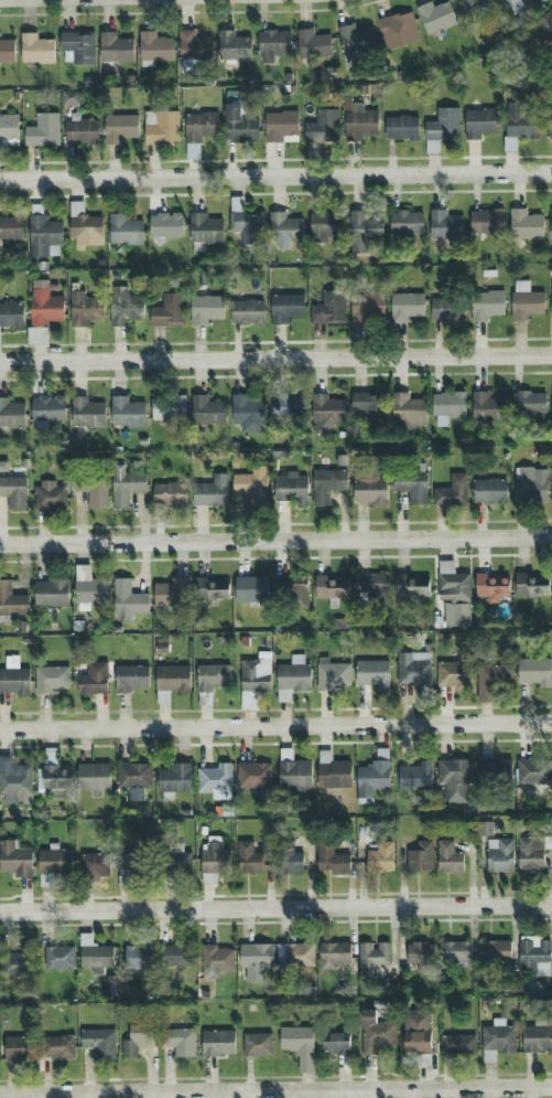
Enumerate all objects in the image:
building: (472, 4)
building: (516, 6)
building: (436, 17)
building: (545, 25)
building: (399, 31)
building: (314, 45)
building: (357, 45)
building: (80, 46)
building: (195, 46)
building: (274, 46)
building: (234, 47)
building: (116, 49)
building: (37, 50)
building: (155, 50)
building: (7, 52)
building: (71, 98)
building: (520, 122)
building: (480, 124)
building: (550, 124)
building: (361, 125)
building: (240, 126)
building: (162, 127)
building: (201, 127)
building: (282, 127)
building: (324, 127)
building: (402, 128)
building: (122, 129)
building: (442, 129)
building: (9, 130)
building: (44, 131)
building: (82, 131)
road: (275, 177)
building: (407, 223)
building: (551, 223)
building: (166, 225)
building: (526, 225)
building: (325, 226)
building: (446, 226)
building: (248, 227)
building: (285, 227)
building: (11, 228)
building: (125, 231)
building: (205, 231)
building: (364, 231)
building: (86, 232)
building: (45, 236)
building: (526, 301)
building: (551, 302)
building: (487, 305)
building: (45, 306)
building: (125, 307)
building: (286, 307)
building: (407, 307)
building: (367, 308)
building: (85, 309)
building: (329, 309)
building: (206, 310)
building: (446, 310)
building: (169, 311)
building: (248, 312)
building: (11, 316)
building: (0, 340)
road: (275, 360)
building: (529, 404)
building: (288, 407)
building: (448, 407)
building: (487, 407)
building: (169, 408)
building: (368, 408)
building: (207, 411)
building: (409, 411)
building: (47, 412)
building: (87, 413)
building: (127, 413)
building: (11, 414)
building: (249, 414)
building: (326, 414)
building: (126, 486)
building: (252, 486)
building: (327, 486)
building: (531, 486)
building: (413, 487)
building: (370, 488)
building: (291, 489)
building: (490, 491)
building: (14, 492)
building: (93, 492)
building: (212, 492)
building: (453, 492)
building: (170, 494)
building: (51, 497)
road: (275, 541)
building: (371, 585)
building: (531, 586)
building: (89, 587)
building: (333, 587)
building: (411, 587)
building: (491, 587)
building: (213, 589)
building: (251, 589)
building: (291, 591)
building: (172, 593)
building: (52, 594)
building: (454, 595)
building: (129, 599)
building: (12, 601)
building: (413, 669)
building: (534, 672)
building: (257, 674)
building: (374, 674)
building: (333, 675)
building: (454, 675)
building: (14, 678)
building: (213, 678)
building: (52, 679)
building: (132, 679)
building: (94, 680)
building: (494, 680)
building: (171, 682)
road: (275, 725)
building: (496, 771)
building: (294, 772)
building: (334, 772)
building: (534, 774)
building: (255, 775)
building: (374, 777)
building: (415, 777)
building: (94, 778)
building: (455, 779)
building: (15, 780)
building: (134, 780)
building: (174, 780)
building: (56, 781)
building: (216, 781)
building: (486, 829)
building: (500, 855)
building: (380, 857)
building: (421, 857)
building: (15, 859)
building: (249, 859)
building: (448, 859)
building: (133, 860)
building: (180, 860)
building: (332, 860)
building: (214, 861)
building: (291, 862)
building: (53, 864)
building: (95, 865)
road: (275, 908)
building: (495, 950)
building: (456, 952)
building: (299, 955)
building: (334, 955)
building: (95, 956)
building: (178, 956)
building: (421, 956)
building: (139, 957)
building: (534, 957)
building: (59, 958)
building: (372, 958)
building: (217, 961)
building: (256, 961)
building: (14, 963)
building: (376, 1034)
building: (137, 1040)
building: (537, 1040)
building: (497, 1041)
building: (180, 1042)
building: (100, 1043)
building: (218, 1043)
building: (258, 1045)
building: (336, 1045)
building: (457, 1045)
building: (299, 1046)
building: (18, 1048)
building: (57, 1048)
road: (275, 1090)

